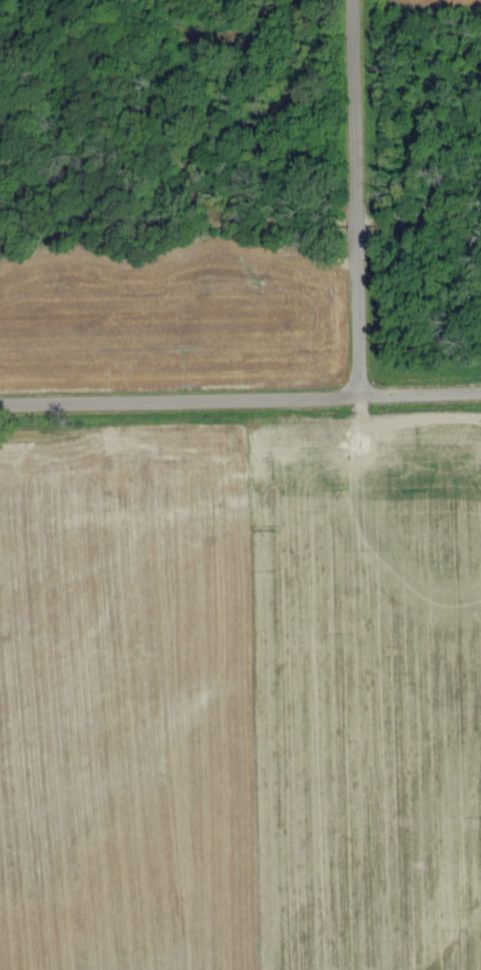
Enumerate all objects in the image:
road: (355, 101)
road: (357, 221)
road: (357, 320)
road: (240, 402)

